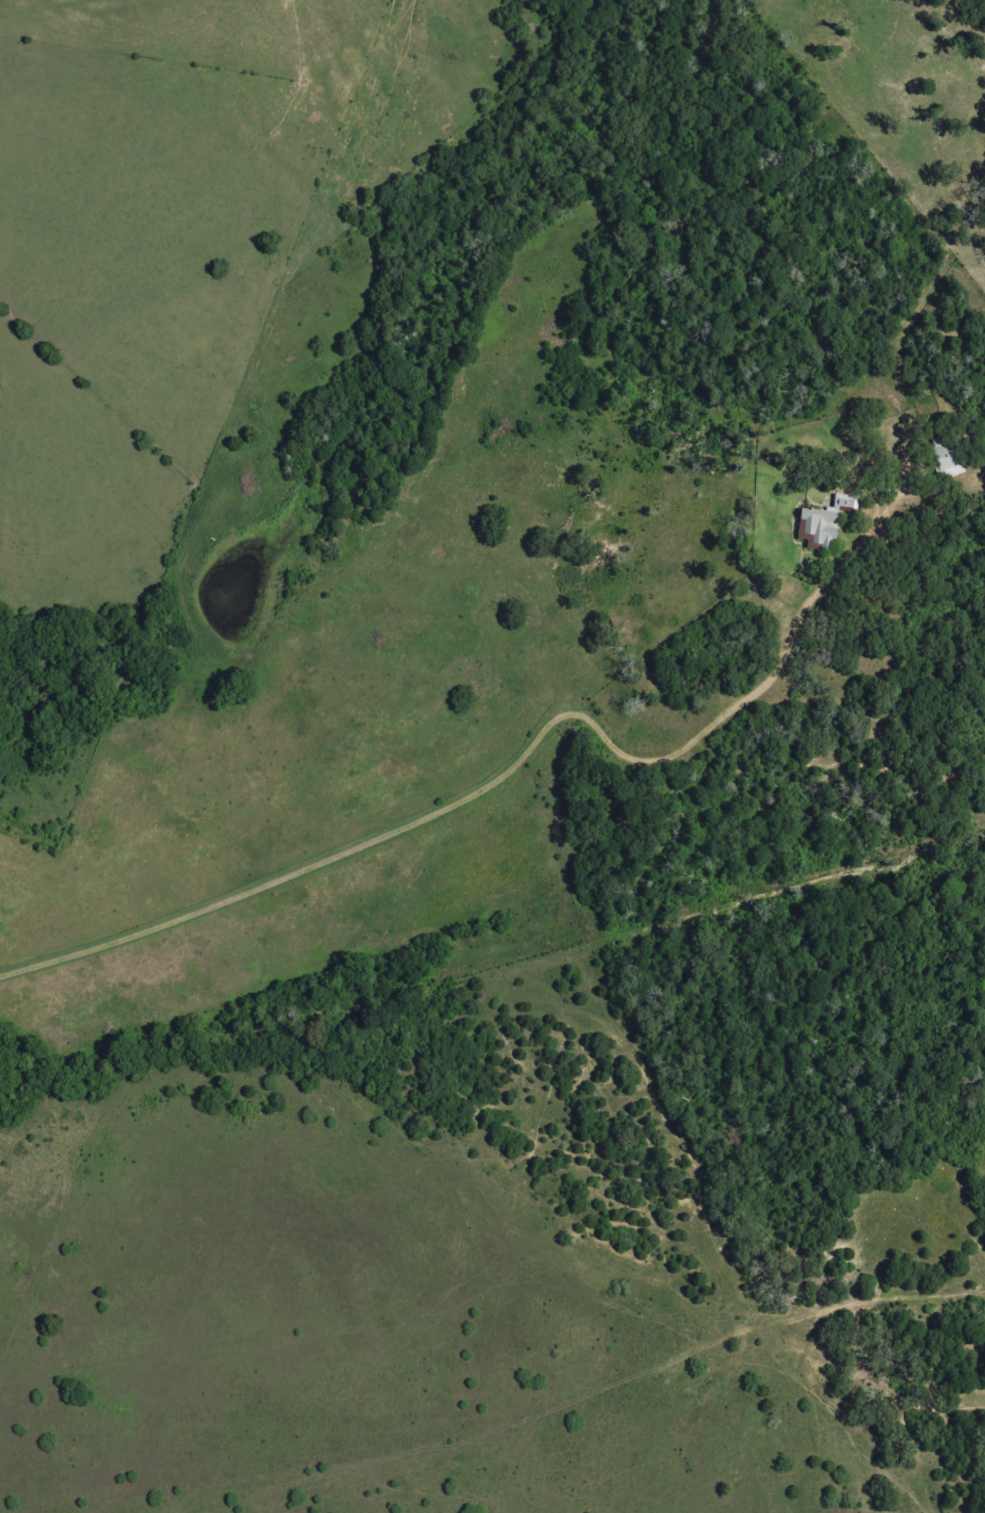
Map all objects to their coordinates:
building: (948, 453)
road: (498, 775)

